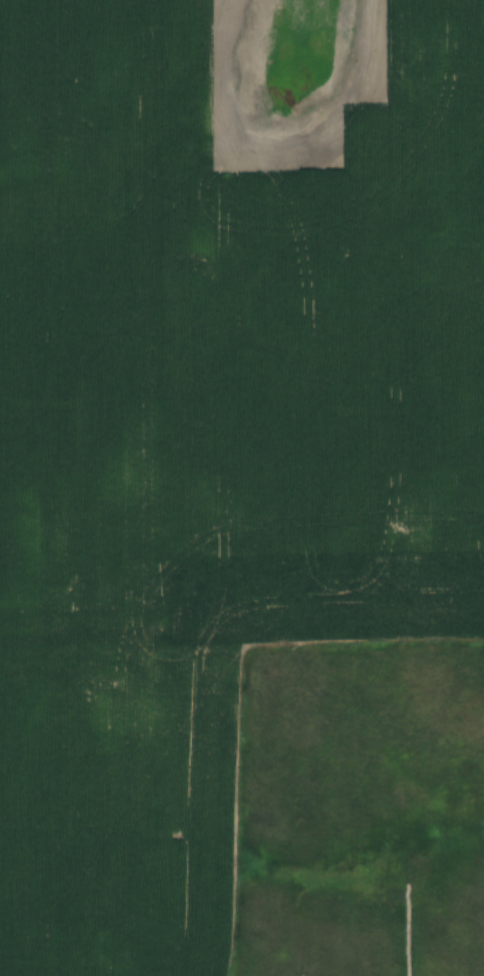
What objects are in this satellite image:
road: (242, 620)

